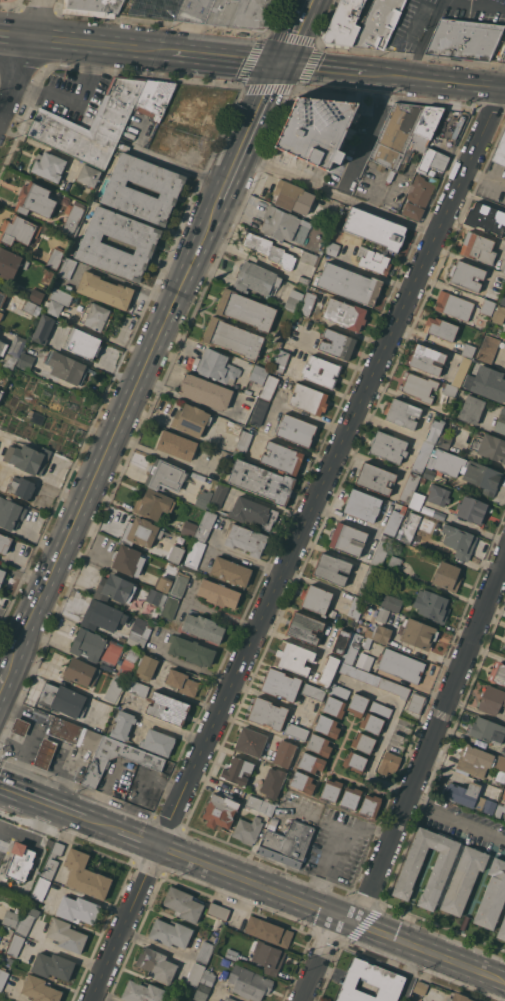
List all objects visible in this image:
building: (93, 7)
building: (194, 10)
road: (437, 11)
building: (242, 13)
road: (37, 21)
road: (121, 22)
road: (414, 22)
building: (344, 23)
building: (378, 23)
road: (47, 28)
road: (296, 31)
building: (465, 39)
road: (14, 41)
road: (61, 43)
road: (130, 47)
road: (179, 52)
road: (236, 58)
traffic signals: (282, 63)
road: (323, 68)
road: (13, 74)
road: (435, 81)
road: (70, 96)
building: (155, 97)
building: (91, 124)
building: (316, 129)
building: (404, 134)
road: (367, 136)
road: (248, 137)
building: (500, 151)
building: (433, 163)
building: (48, 165)
building: (89, 175)
road: (485, 177)
building: (120, 189)
road: (339, 194)
building: (288, 195)
building: (418, 197)
building: (35, 200)
building: (328, 216)
building: (72, 217)
building: (485, 218)
building: (284, 225)
building: (374, 228)
building: (18, 229)
building: (95, 245)
building: (478, 247)
building: (332, 248)
building: (269, 250)
building: (54, 258)
building: (309, 258)
building: (374, 260)
building: (10, 263)
building: (67, 269)
building: (504, 270)
building: (467, 275)
building: (256, 279)
building: (304, 279)
building: (499, 279)
building: (350, 283)
building: (68, 286)
building: (104, 290)
building: (493, 294)
building: (36, 295)
building: (61, 296)
building: (2, 297)
building: (503, 299)
building: (293, 300)
building: (307, 304)
building: (454, 305)
building: (28, 306)
building: (487, 306)
building: (54, 308)
building: (246, 309)
building: (1, 314)
building: (345, 314)
building: (499, 315)
building: (96, 316)
building: (441, 328)
building: (43, 329)
building: (233, 338)
building: (83, 343)
building: (337, 344)
building: (2, 347)
building: (488, 348)
building: (15, 350)
building: (468, 350)
building: (426, 359)
building: (25, 361)
building: (280, 361)
building: (217, 366)
building: (67, 368)
building: (460, 370)
building: (322, 371)
building: (259, 373)
building: (487, 382)
building: (418, 386)
building: (269, 387)
building: (450, 389)
building: (205, 391)
building: (1, 394)
building: (308, 399)
building: (471, 409)
building: (259, 411)
building: (403, 413)
building: (36, 416)
building: (191, 420)
building: (500, 422)
building: (232, 425)
building: (296, 430)
building: (434, 430)
building: (444, 439)
road: (109, 441)
building: (242, 443)
building: (177, 445)
building: (388, 446)
building: (490, 447)
building: (423, 456)
building: (282, 457)
building: (28, 458)
building: (1, 464)
building: (465, 470)
building: (429, 473)
building: (165, 475)
building: (375, 478)
building: (422, 480)
building: (261, 481)
building: (22, 487)
building: (409, 487)
building: (219, 495)
building: (438, 495)
building: (203, 498)
building: (416, 500)
building: (152, 503)
building: (362, 505)
building: (473, 509)
building: (431, 511)
building: (253, 512)
building: (10, 513)
building: (442, 516)
building: (394, 520)
building: (205, 526)
building: (410, 526)
building: (189, 528)
building: (140, 532)
building: (347, 538)
building: (246, 539)
building: (459, 541)
building: (4, 543)
road: (296, 545)
building: (381, 551)
building: (175, 553)
building: (194, 553)
road: (246, 558)
building: (128, 560)
building: (394, 564)
building: (331, 568)
building: (231, 571)
building: (2, 575)
building: (447, 576)
building: (167, 577)
building: (368, 580)
building: (179, 584)
building: (115, 589)
building: (218, 593)
building: (156, 597)
building: (315, 598)
building: (392, 602)
building: (431, 605)
building: (169, 607)
building: (356, 607)
building: (382, 615)
building: (102, 616)
building: (154, 616)
building: (203, 627)
building: (304, 628)
building: (139, 633)
building: (379, 633)
building: (417, 633)
building: (340, 641)
building: (367, 642)
building: (504, 645)
building: (95, 647)
building: (191, 650)
building: (350, 652)
building: (293, 657)
building: (364, 661)
building: (128, 663)
building: (401, 665)
building: (146, 666)
building: (328, 670)
building: (81, 672)
building: (498, 673)
road: (2, 676)
building: (374, 679)
building: (182, 682)
building: (280, 684)
building: (136, 688)
building: (33, 690)
building: (114, 691)
building: (313, 691)
building: (339, 691)
building: (62, 700)
building: (492, 700)
building: (415, 702)
building: (357, 704)
building: (333, 706)
building: (168, 708)
building: (380, 709)
building: (267, 713)
building: (372, 723)
building: (122, 725)
building: (327, 726)
building: (19, 727)
road: (168, 728)
building: (488, 730)
building: (296, 731)
road: (388, 732)
building: (75, 733)
building: (250, 741)
building: (157, 742)
building: (363, 742)
road: (431, 742)
building: (318, 744)
building: (45, 753)
gas station: (45, 753)
building: (284, 753)
building: (504, 754)
building: (479, 760)
building: (311, 762)
building: (354, 762)
building: (389, 762)
building: (153, 764)
building: (237, 770)
building: (273, 782)
building: (302, 782)
building: (331, 790)
building: (470, 796)
building: (350, 797)
road: (41, 800)
building: (261, 804)
building: (370, 805)
building: (499, 810)
building: (220, 811)
road: (457, 814)
building: (504, 820)
road: (100, 823)
building: (273, 823)
building: (247, 830)
road: (30, 834)
road: (139, 839)
building: (287, 843)
road: (337, 846)
building: (51, 860)
building: (18, 862)
building: (440, 870)
road: (30, 873)
building: (85, 875)
building: (463, 879)
building: (41, 888)
building: (492, 895)
building: (183, 904)
building: (78, 909)
building: (218, 911)
road: (332, 914)
building: (11, 918)
building: (26, 919)
building: (502, 930)
building: (268, 931)
building: (10, 932)
building: (170, 933)
building: (66, 935)
building: (14, 945)
building: (205, 952)
building: (231, 953)
building: (267, 956)
road: (322, 959)
building: (225, 962)
building: (156, 964)
building: (53, 966)
building: (196, 973)
building: (3, 976)
building: (207, 977)
building: (249, 982)
building: (370, 982)
building: (420, 986)
building: (40, 989)
building: (142, 992)
building: (201, 992)
building: (458, 998)
building: (229, 999)

